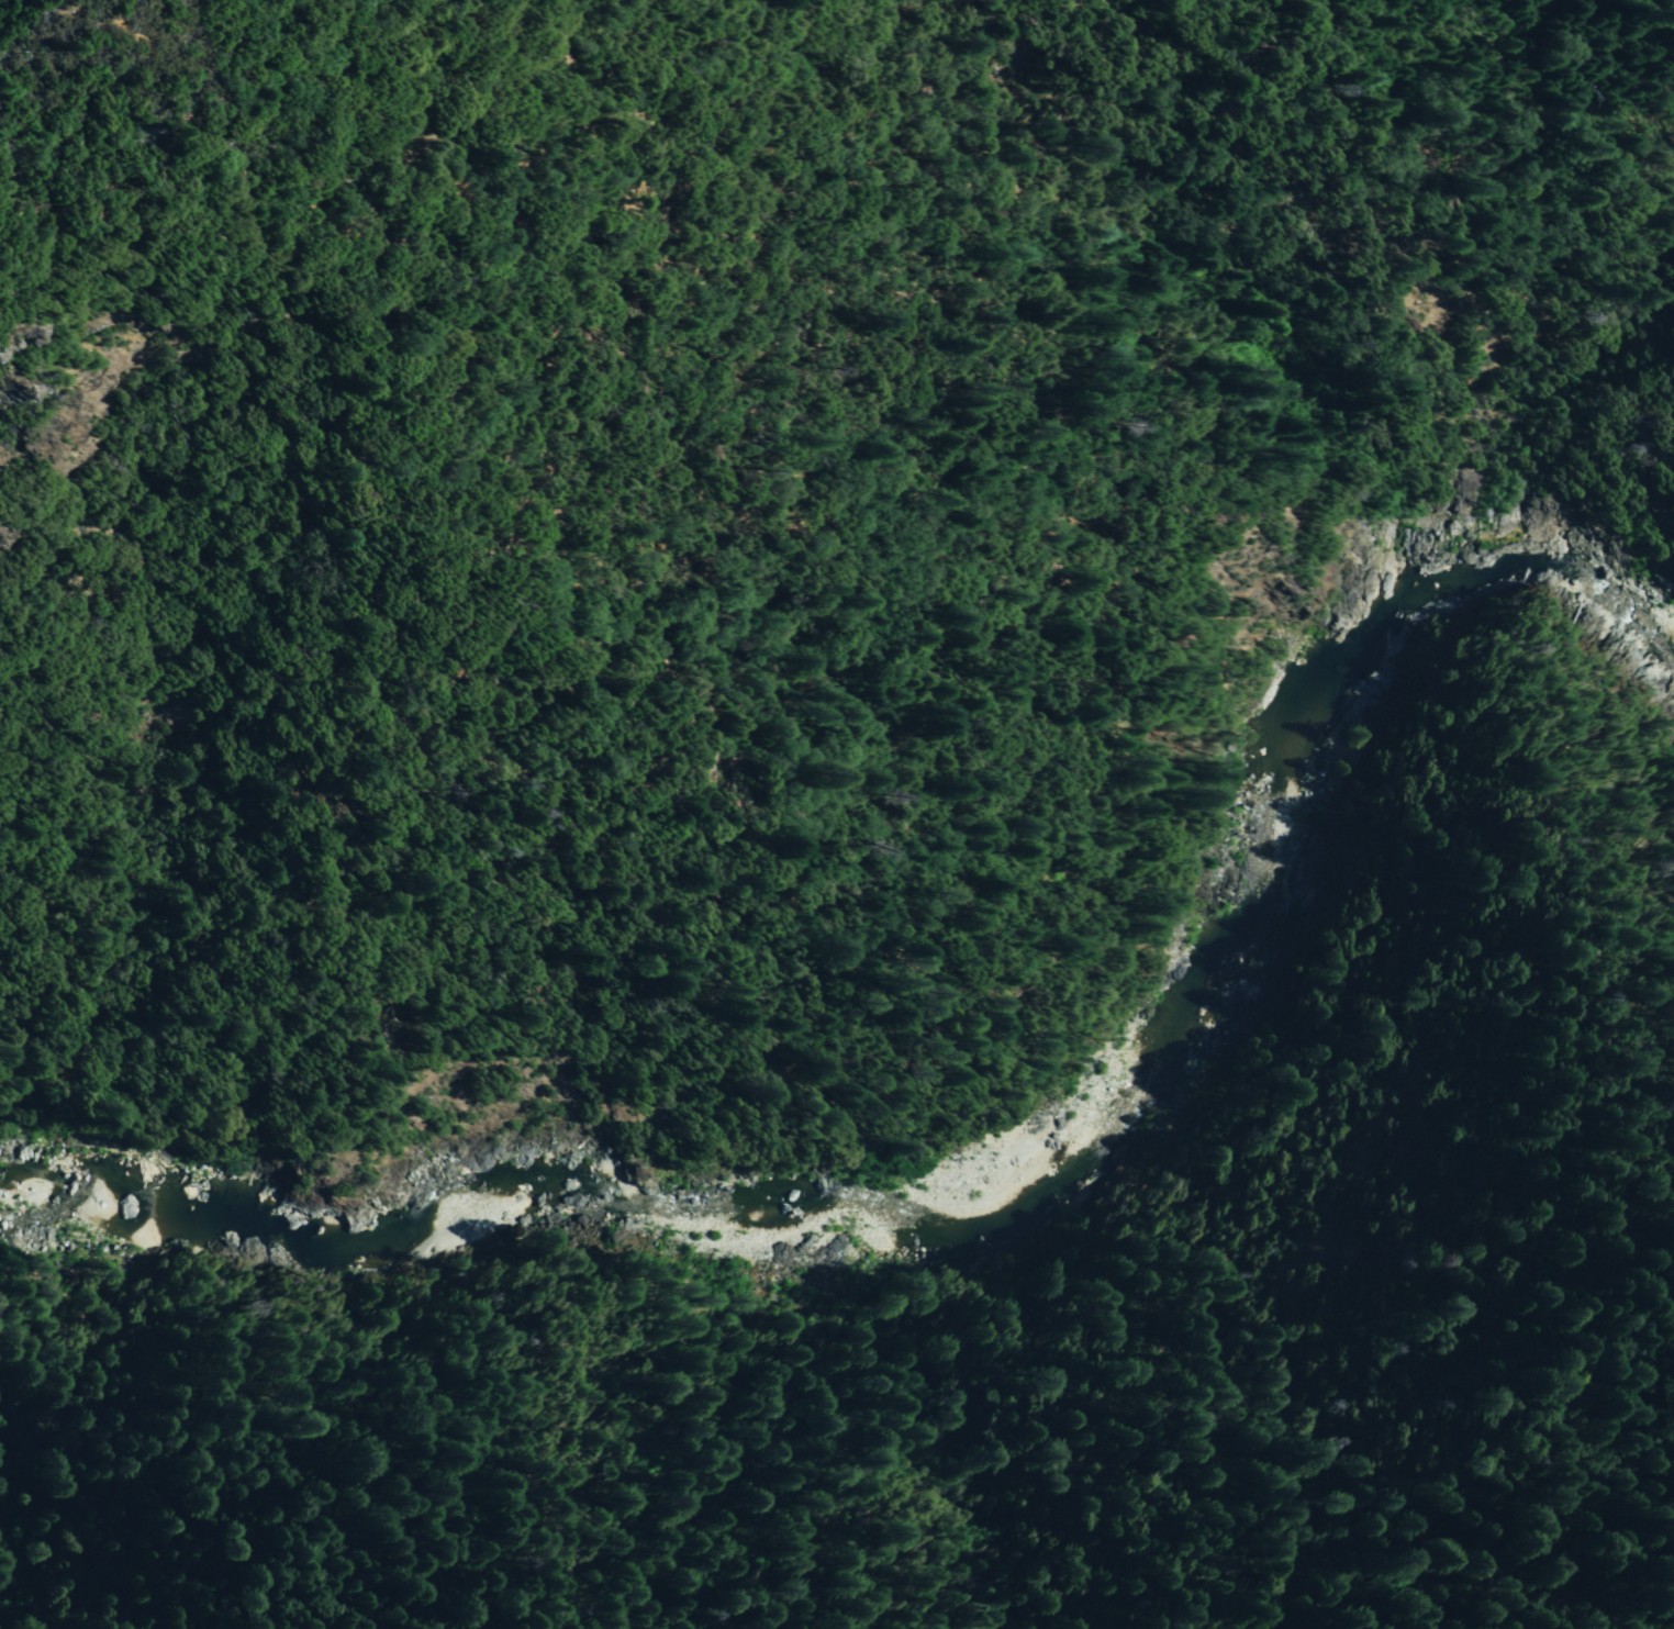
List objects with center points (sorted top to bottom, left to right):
park: (1470, 86)
park: (578, 339)
river: (1415, 578)
river: (1572, 594)
river: (1332, 681)
river: (1266, 824)
road: (983, 949)
river: (1201, 963)
river: (1158, 1044)
river: (1065, 1161)
river: (1023, 1200)
river: (47, 1239)
river: (349, 1242)
river: (772, 1256)
park: (1477, 1473)

